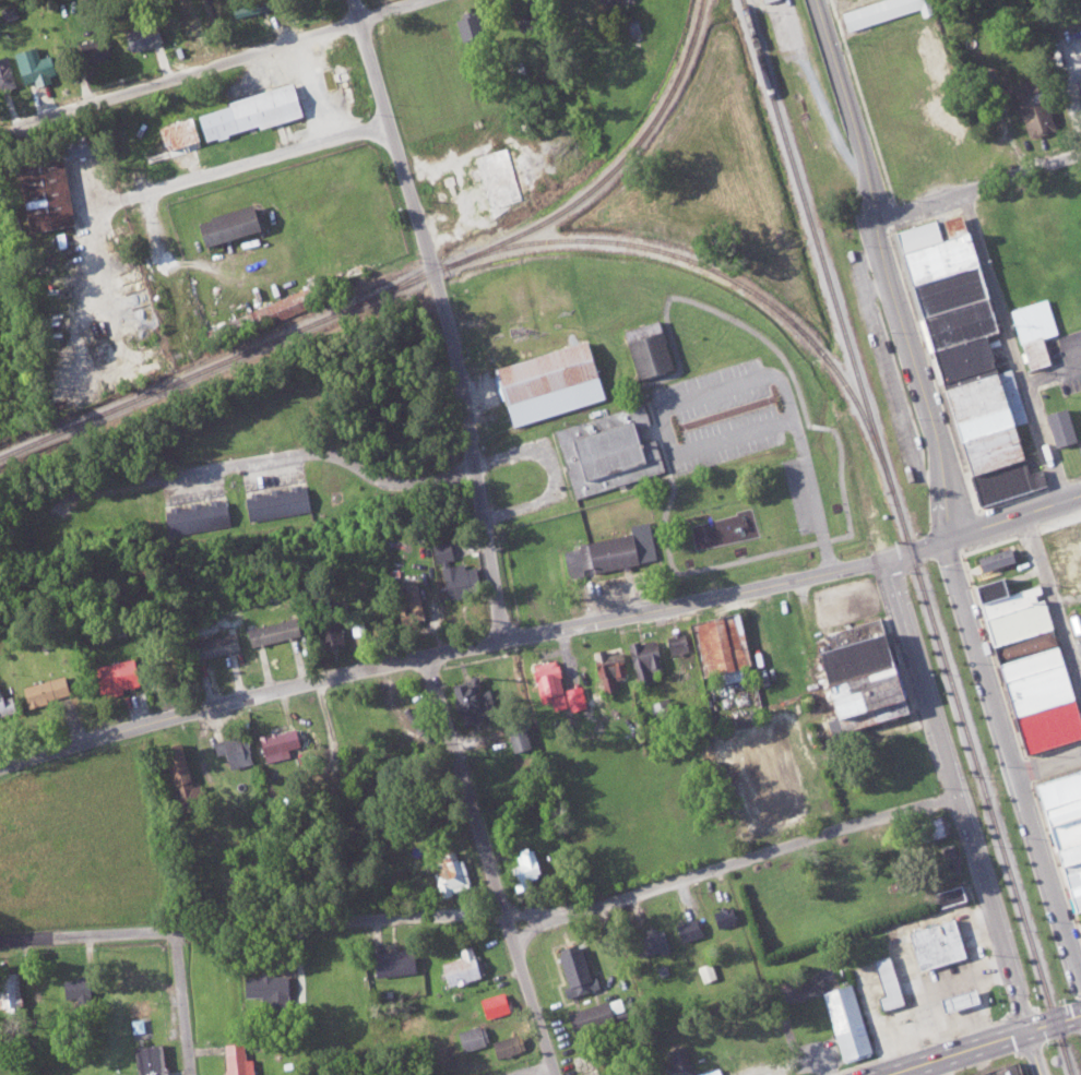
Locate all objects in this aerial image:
building: (762, 0)
building: (605, 2)
building: (876, 11)
building: (141, 35)
building: (93, 48)
road: (230, 61)
building: (29, 64)
building: (5, 73)
building: (1031, 107)
building: (248, 110)
building: (175, 132)
building: (72, 144)
railway: (625, 159)
road: (253, 162)
building: (494, 174)
road: (976, 187)
building: (43, 193)
building: (222, 224)
road: (169, 266)
road: (887, 268)
railway: (732, 277)
road: (448, 315)
building: (1031, 331)
building: (645, 347)
road: (1014, 347)
railway: (236, 355)
building: (964, 360)
building: (545, 382)
building: (1079, 390)
building: (1058, 426)
building: (605, 451)
road: (299, 455)
building: (194, 515)
railway: (907, 537)
building: (1064, 547)
building: (613, 549)
building: (441, 550)
building: (993, 558)
building: (988, 573)
building: (453, 575)
building: (1077, 621)
building: (270, 632)
road: (540, 632)
building: (330, 633)
building: (213, 645)
building: (717, 646)
building: (643, 659)
building: (1026, 665)
building: (607, 668)
building: (114, 677)
building: (856, 681)
building: (546, 683)
building: (44, 690)
building: (573, 696)
building: (463, 700)
building: (5, 705)
building: (516, 736)
building: (273, 743)
building: (233, 750)
road: (1011, 760)
building: (175, 771)
road: (959, 796)
building: (930, 827)
building: (1062, 829)
road: (795, 845)
building: (951, 859)
road: (488, 865)
building: (524, 869)
building: (450, 874)
building: (948, 895)
building: (724, 916)
road: (251, 927)
building: (686, 929)
building: (652, 942)
building: (934, 943)
building: (391, 961)
building: (461, 967)
building: (706, 970)
building: (574, 971)
building: (884, 982)
building: (75, 988)
building: (265, 989)
building: (9, 992)
building: (954, 1000)
road: (182, 1003)
building: (496, 1004)
building: (845, 1022)
building: (471, 1037)
building: (507, 1044)
road: (986, 1046)
road: (1035, 1054)
building: (146, 1060)
building: (236, 1060)
building: (678, 1061)
building: (1001, 1070)
building: (709, 1072)

